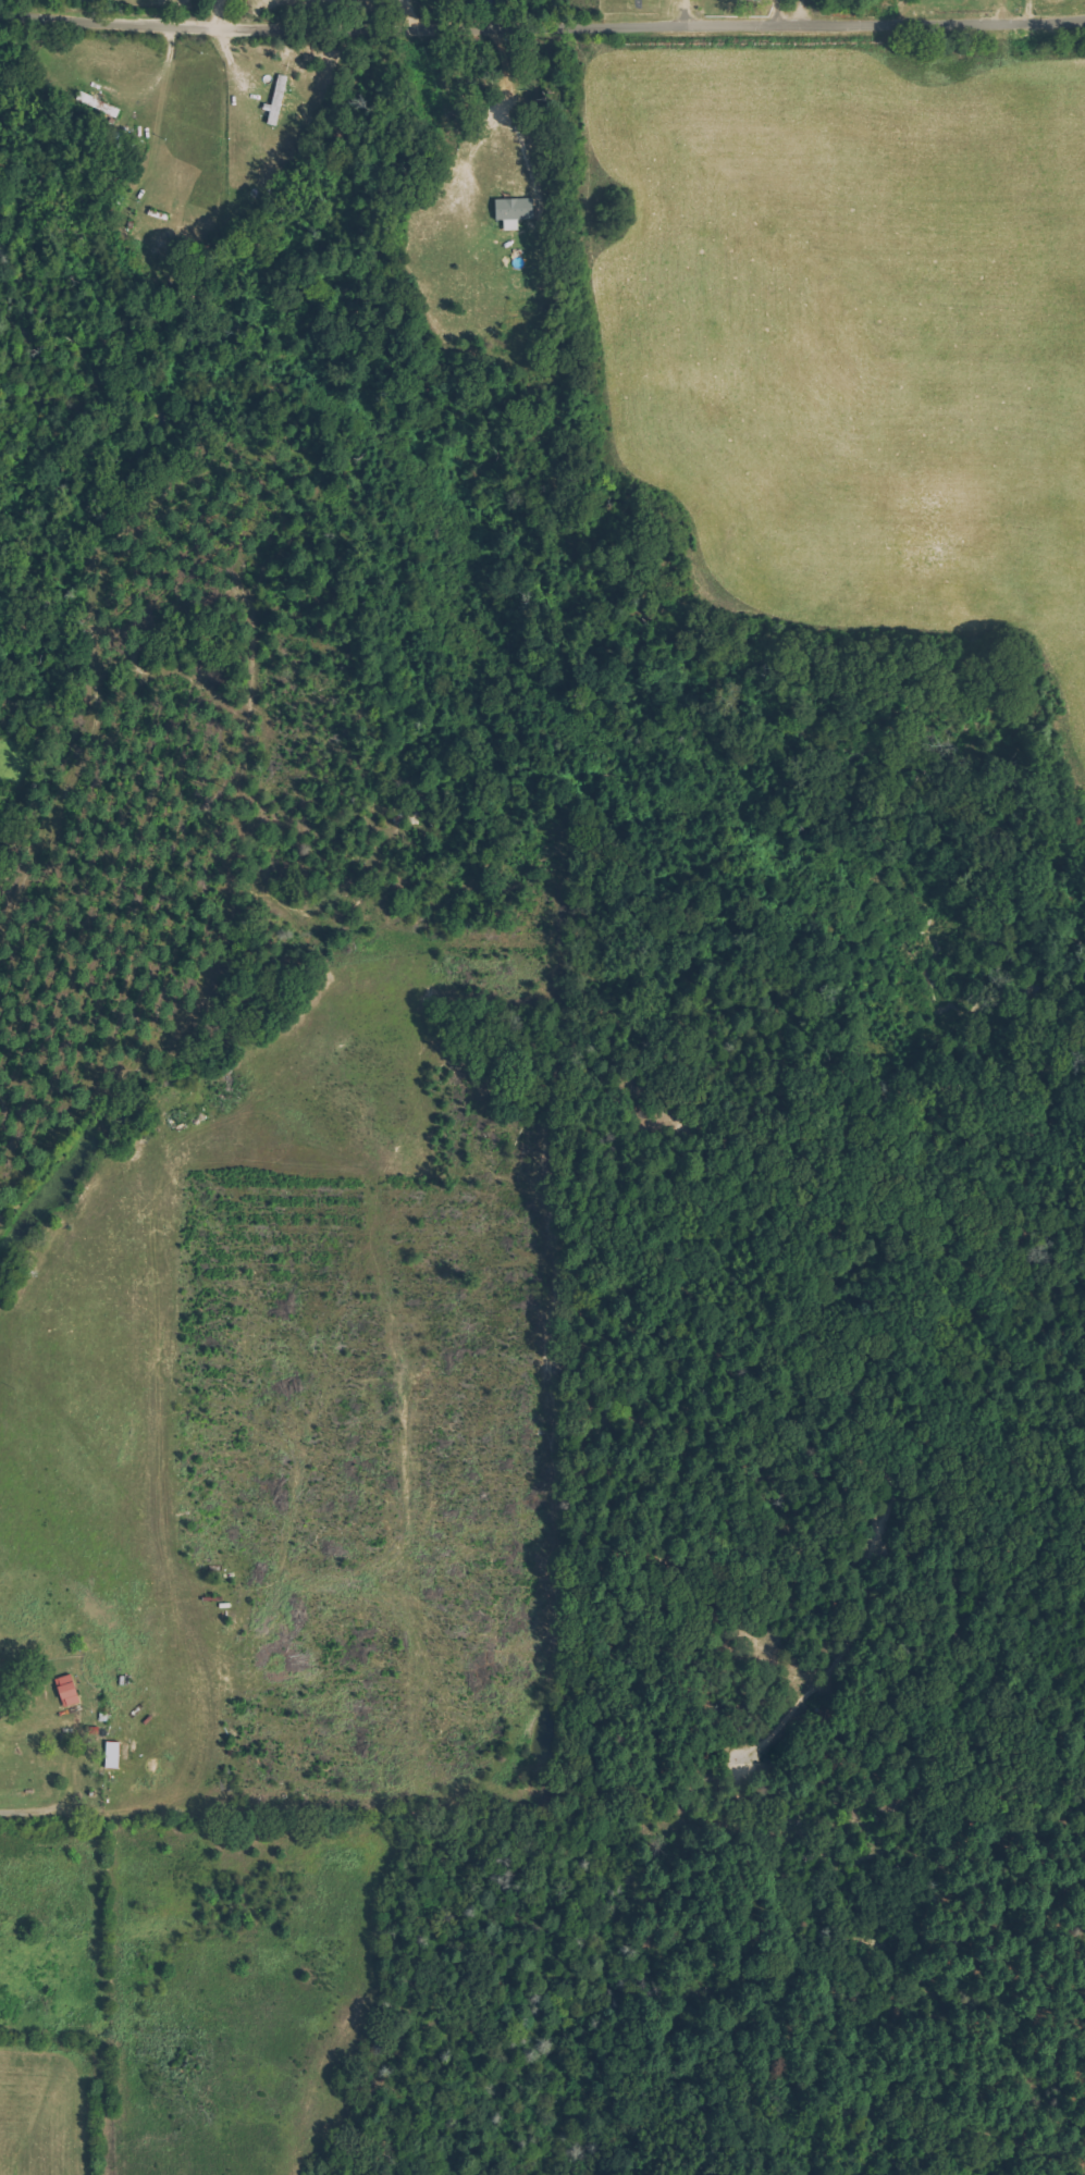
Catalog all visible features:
road: (542, 26)
building: (517, 211)
building: (72, 1690)
road: (9, 1814)

